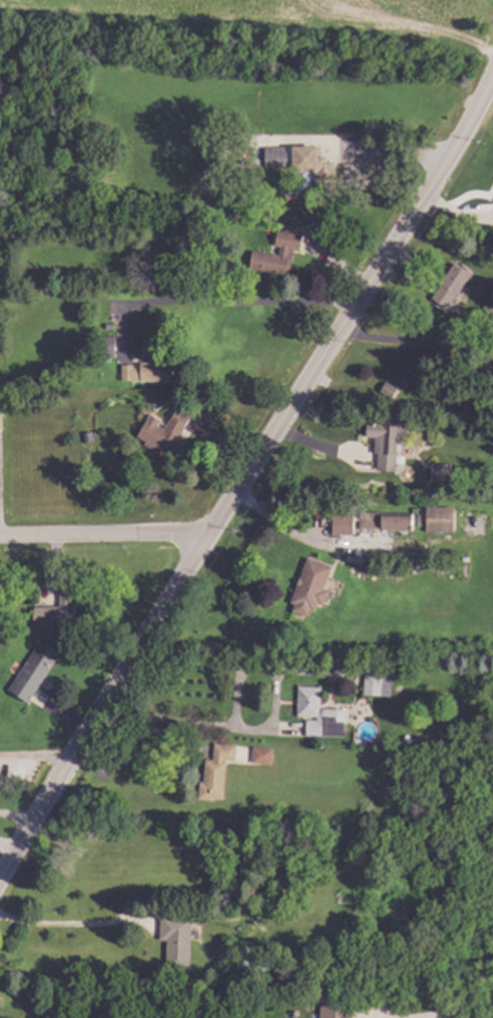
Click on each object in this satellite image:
building: (277, 157)
building: (315, 166)
building: (492, 196)
building: (288, 249)
building: (453, 284)
road: (216, 303)
building: (489, 308)
building: (111, 326)
road: (416, 343)
building: (106, 345)
building: (150, 371)
building: (390, 390)
building: (1, 420)
building: (166, 433)
building: (391, 444)
road: (250, 472)
building: (442, 473)
building: (420, 519)
building: (442, 519)
building: (387, 520)
building: (344, 525)
road: (283, 529)
road: (102, 536)
building: (312, 587)
building: (58, 613)
building: (34, 673)
road: (62, 674)
building: (375, 682)
building: (315, 710)
road: (178, 724)
building: (263, 756)
road: (135, 759)
building: (217, 772)
road: (6, 849)
road: (74, 923)
building: (178, 941)
building: (248, 952)
building: (247, 965)
building: (337, 1011)

